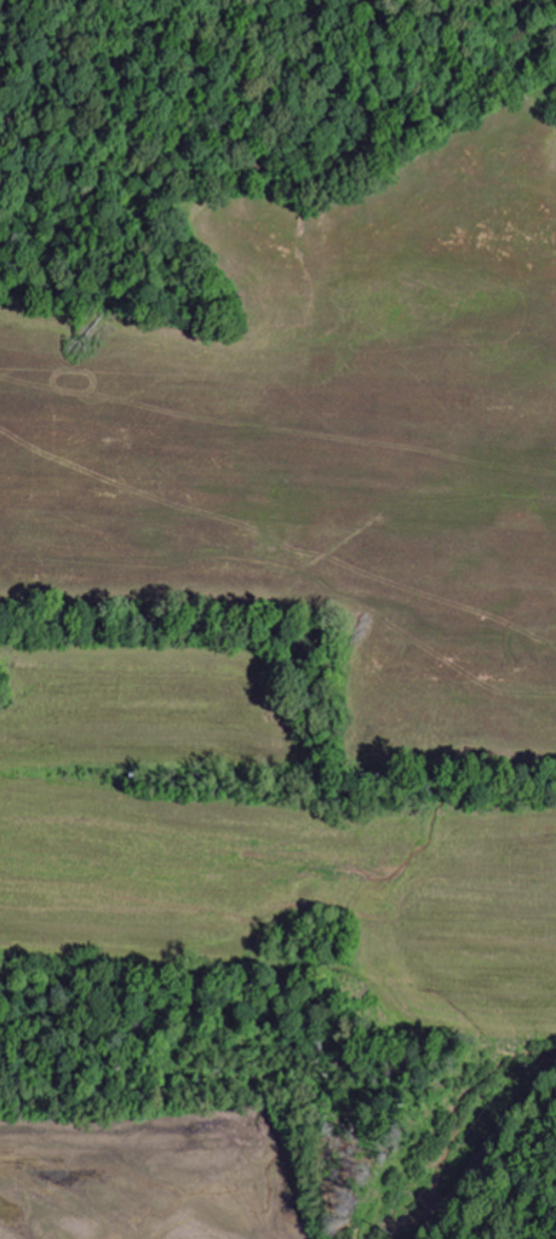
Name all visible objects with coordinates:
power tower: (394, 1233)

